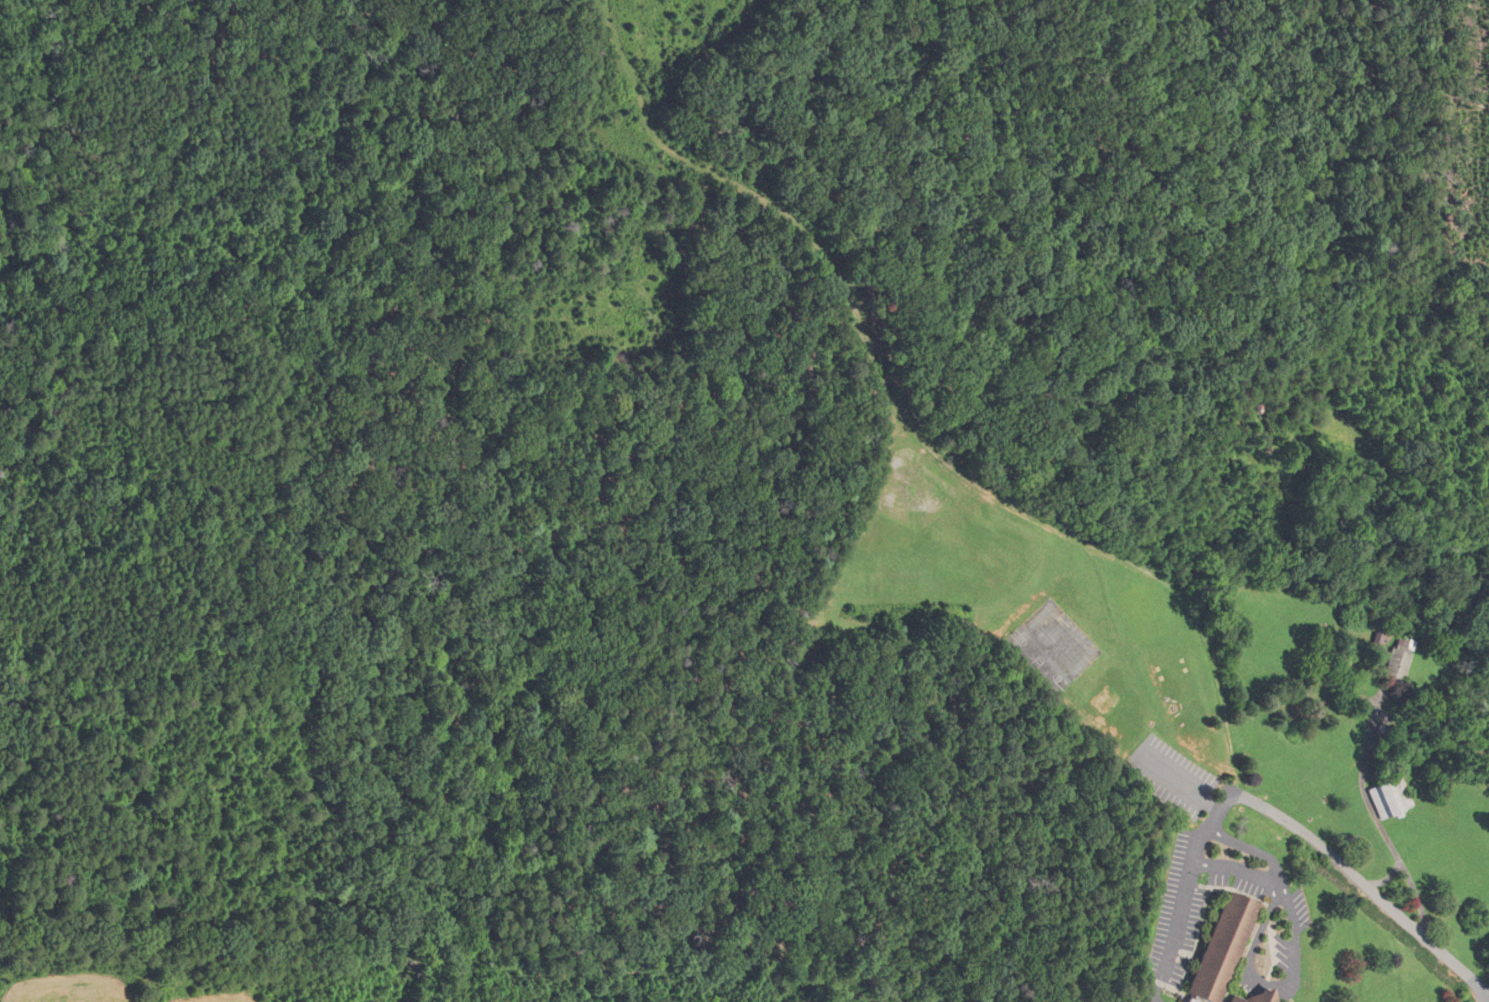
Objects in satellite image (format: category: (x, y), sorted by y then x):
building: (1394, 658)
building: (1387, 796)
road: (1379, 824)
road: (1387, 877)
road: (1361, 881)
road: (1185, 892)
building: (1214, 948)
building: (1247, 997)

